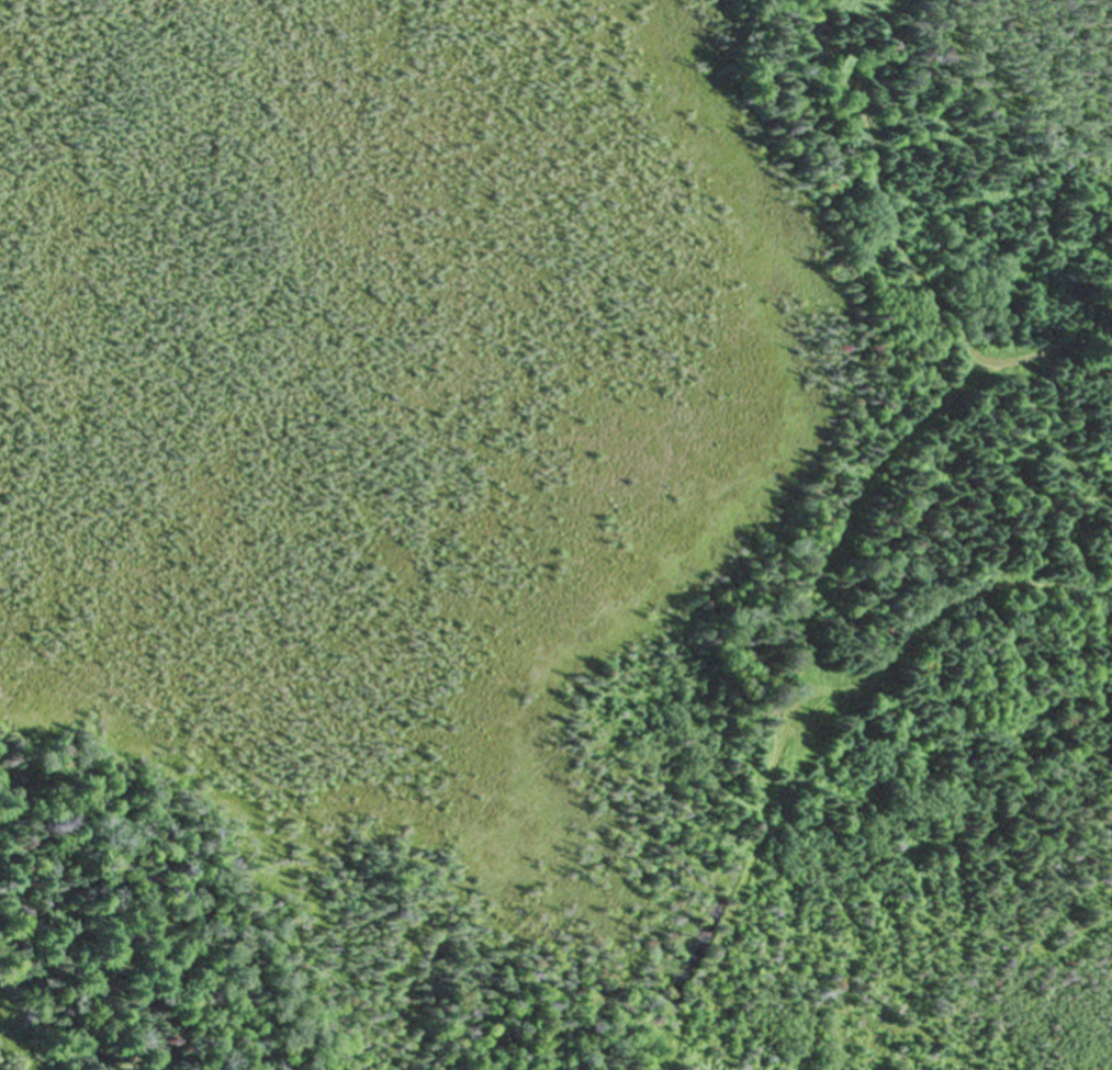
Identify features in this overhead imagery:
road: (872, 248)

